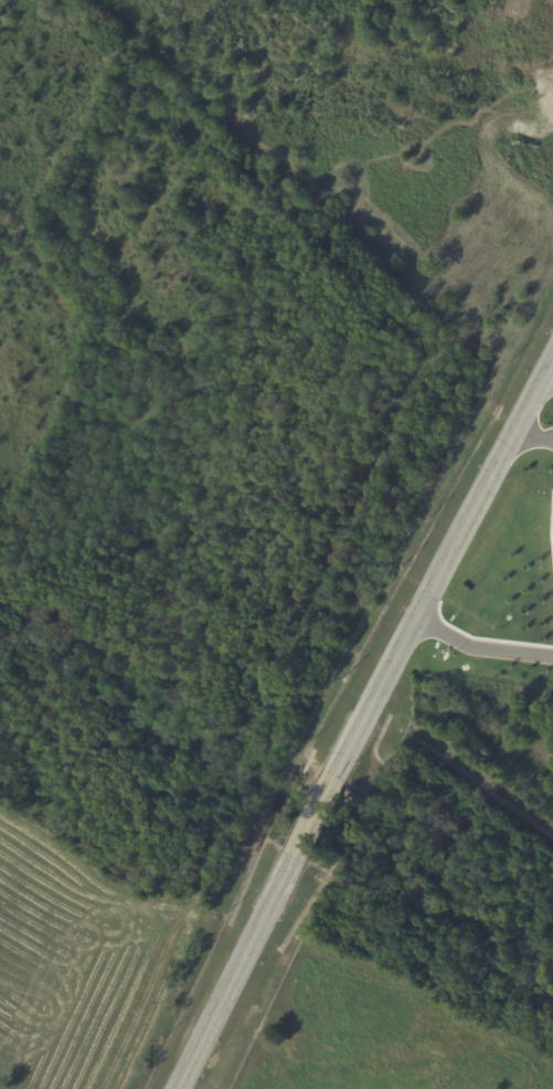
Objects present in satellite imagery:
road: (550, 364)
road: (534, 429)
airport: (276, 544)
road: (444, 562)
road: (479, 652)
road: (315, 815)
road: (234, 972)

